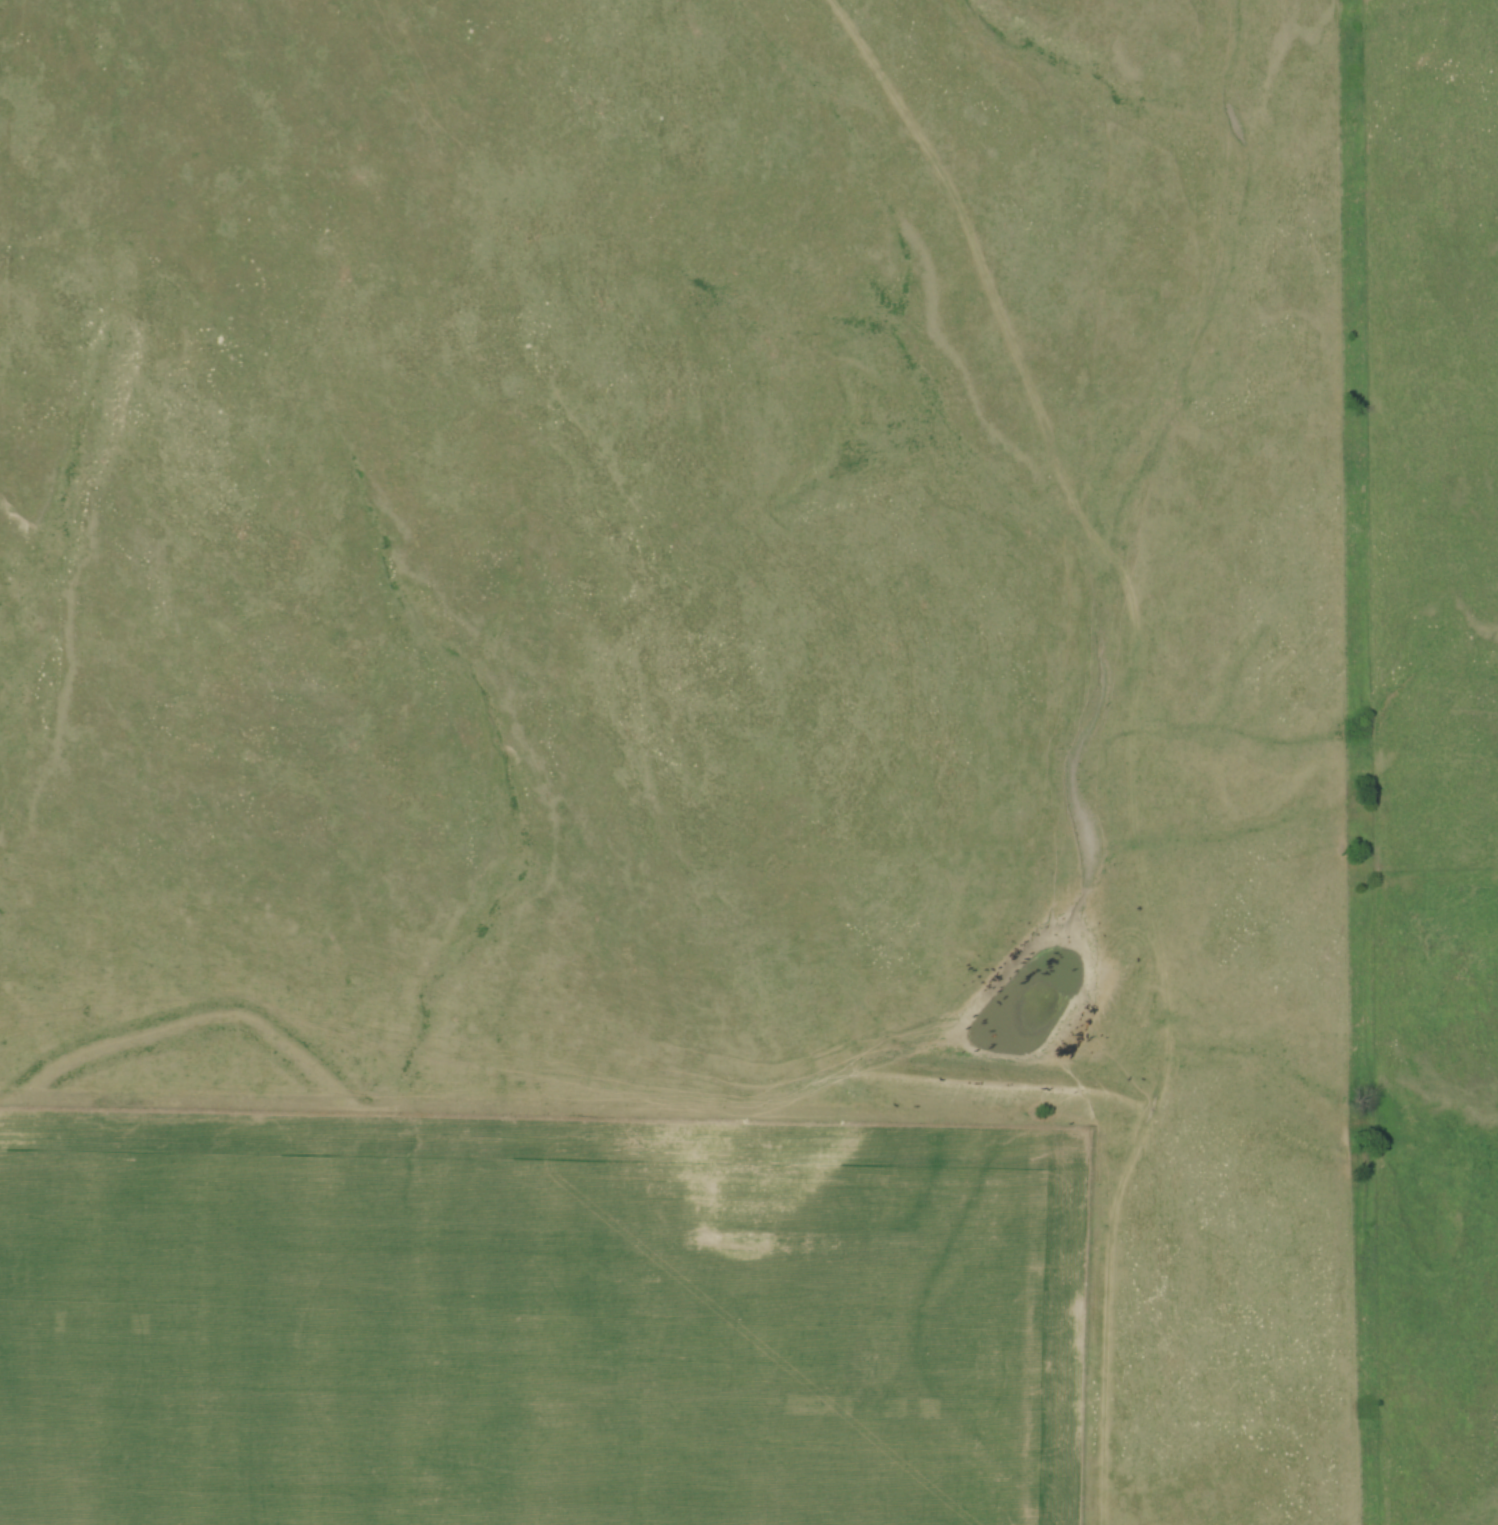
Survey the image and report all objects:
crop: (534, 1322)

